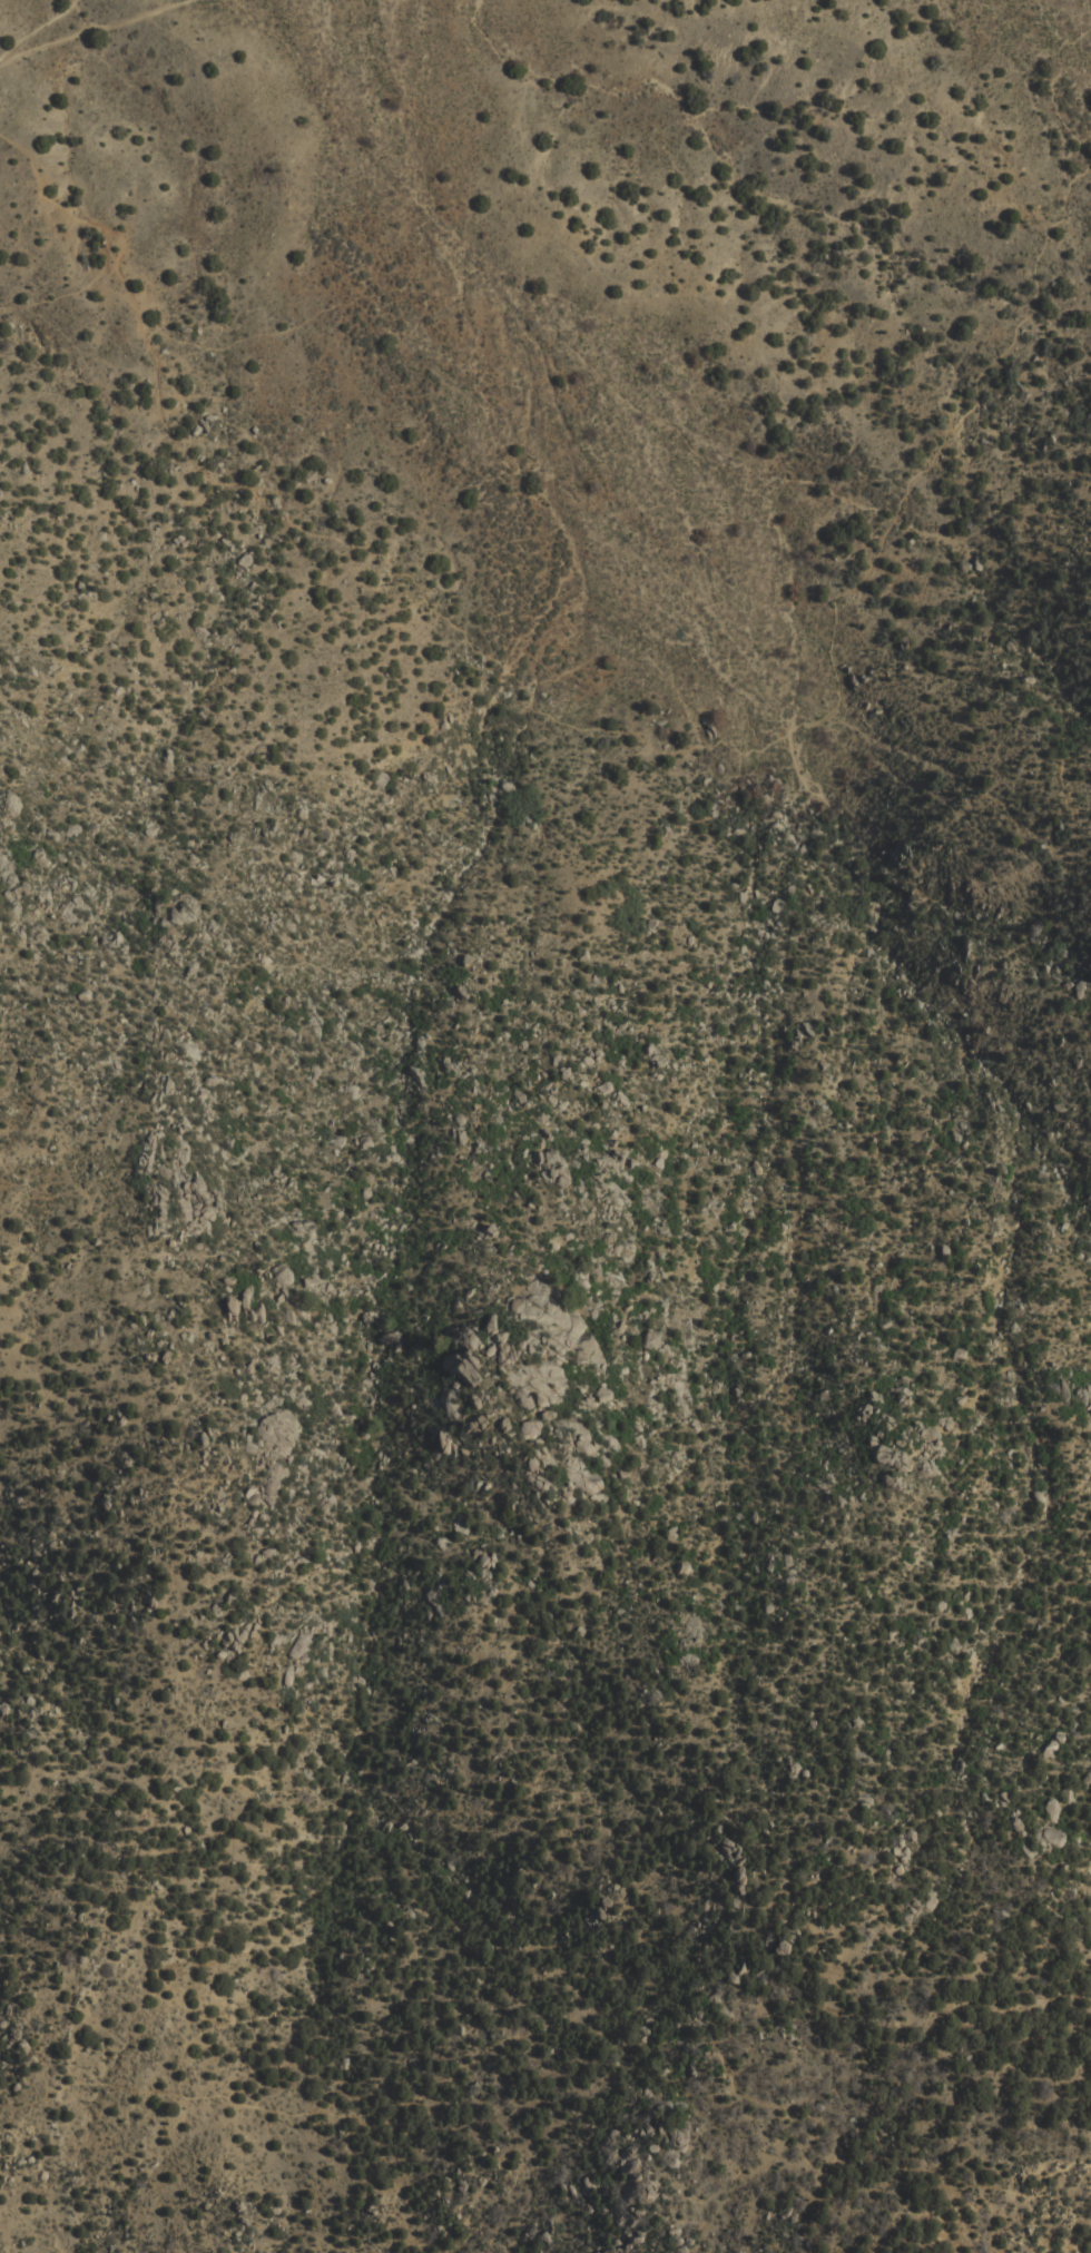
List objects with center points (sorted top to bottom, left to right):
road: (39, 30)
road: (121, 253)
road: (63, 293)
road: (829, 717)
road: (553, 2038)

